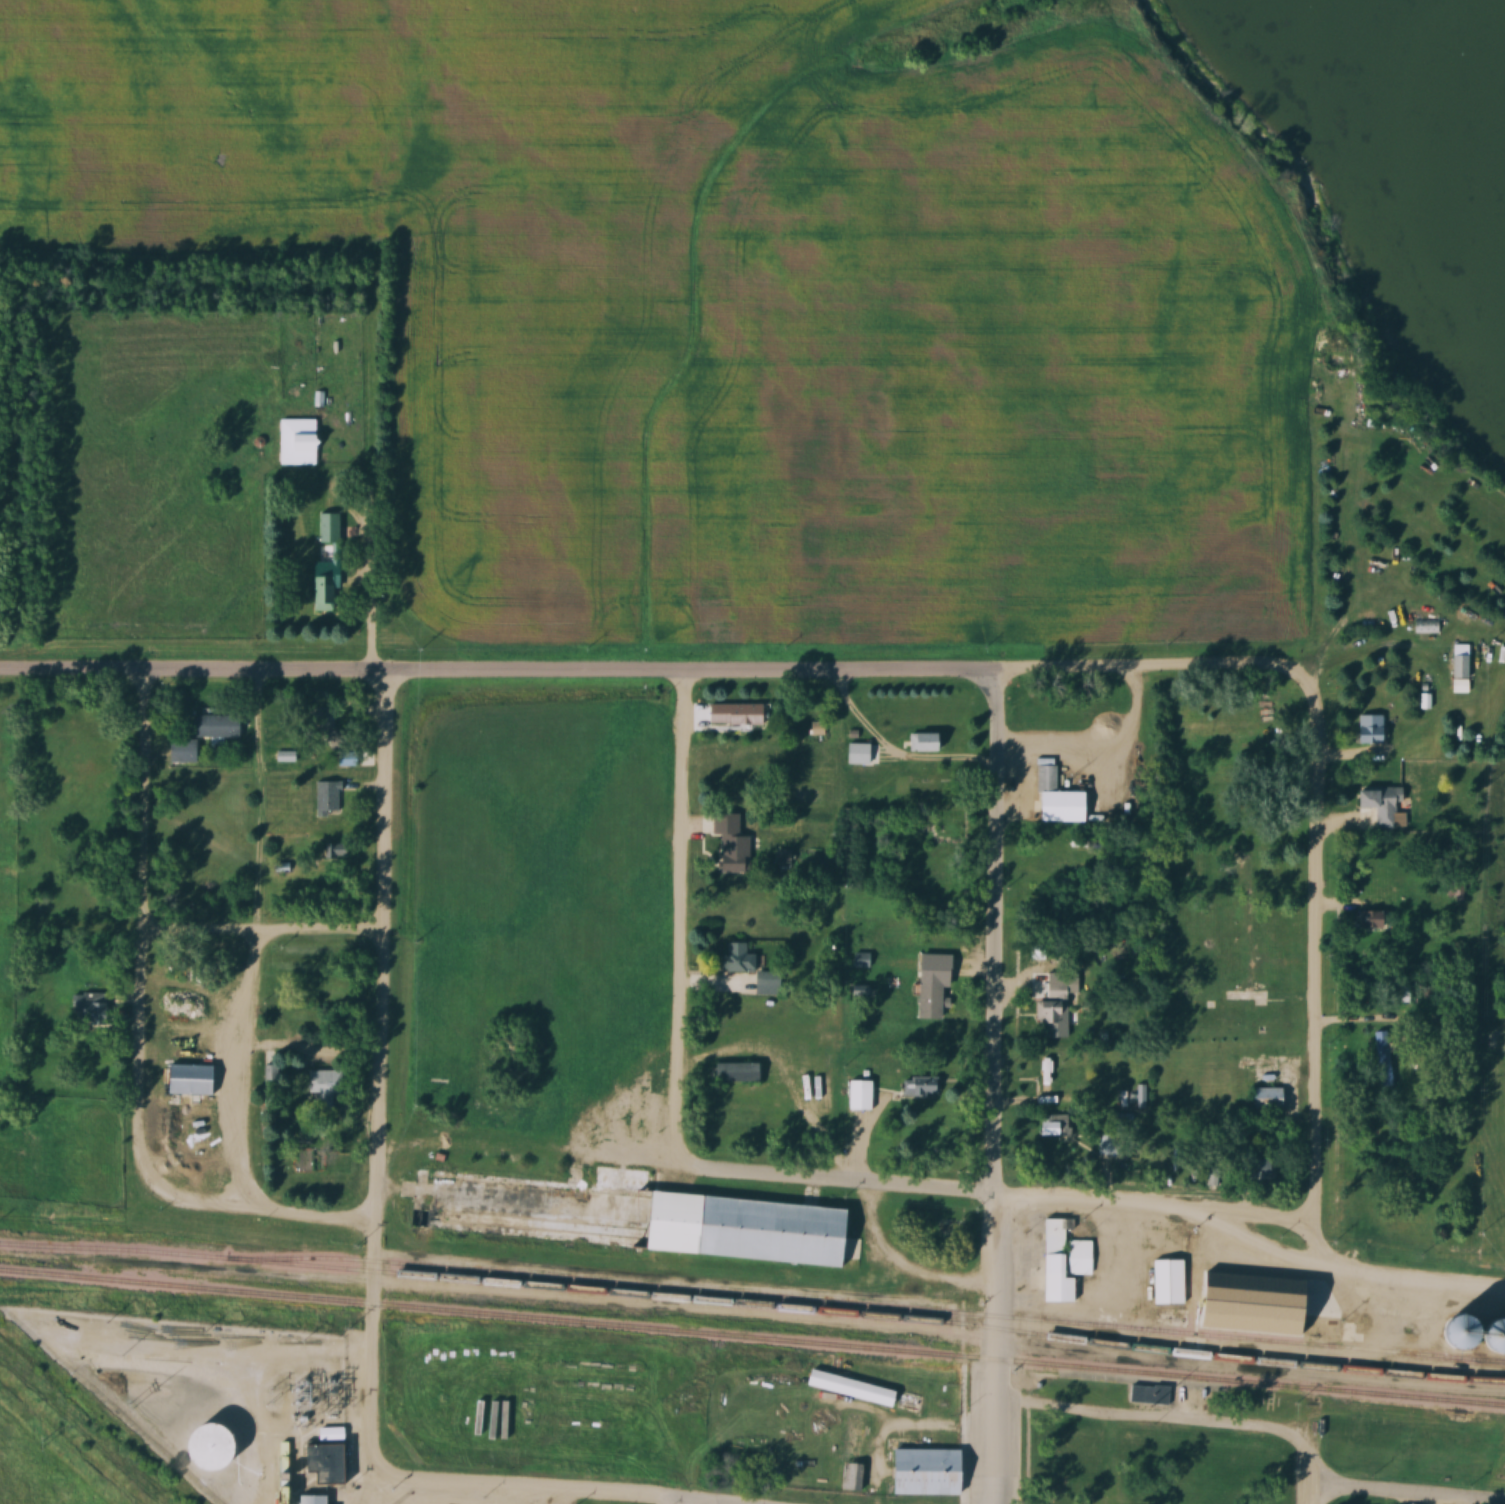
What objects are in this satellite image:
building: (1374, 423)
building: (300, 441)
building: (333, 528)
building: (329, 590)
road: (367, 609)
building: (1464, 661)
road: (658, 669)
building: (737, 714)
building: (219, 725)
building: (1374, 729)
building: (331, 734)
building: (927, 742)
building: (186, 749)
building: (860, 753)
building: (329, 798)
building: (1062, 798)
building: (205, 802)
building: (1388, 806)
building: (1252, 839)
building: (734, 843)
building: (338, 851)
building: (929, 867)
building: (246, 888)
road: (688, 918)
building: (1376, 920)
road: (145, 930)
road: (209, 936)
road: (258, 939)
building: (742, 958)
building: (862, 959)
building: (770, 983)
building: (1405, 994)
road: (1321, 997)
building: (933, 1001)
building: (90, 1008)
building: (1048, 1015)
building: (1383, 1045)
road: (385, 1069)
building: (740, 1072)
building: (270, 1073)
building: (325, 1085)
building: (922, 1086)
road: (1001, 1088)
building: (863, 1096)
building: (190, 1097)
building: (1270, 1098)
building: (1055, 1125)
building: (1109, 1143)
building: (1264, 1170)
road: (841, 1183)
road: (260, 1209)
road: (1159, 1209)
building: (627, 1215)
building: (948, 1227)
building: (1065, 1262)
road: (1412, 1280)
building: (1171, 1282)
railway: (871, 1305)
railway: (753, 1306)
railway: (752, 1338)
building: (854, 1388)
building: (1150, 1395)
building: (524, 1413)
road: (1153, 1414)
building: (852, 1451)
building: (333, 1462)
road: (1310, 1467)
building: (929, 1471)
road: (548, 1484)
road: (1407, 1493)
building: (321, 1499)
road: (680, 1501)
road: (1460, 1501)

